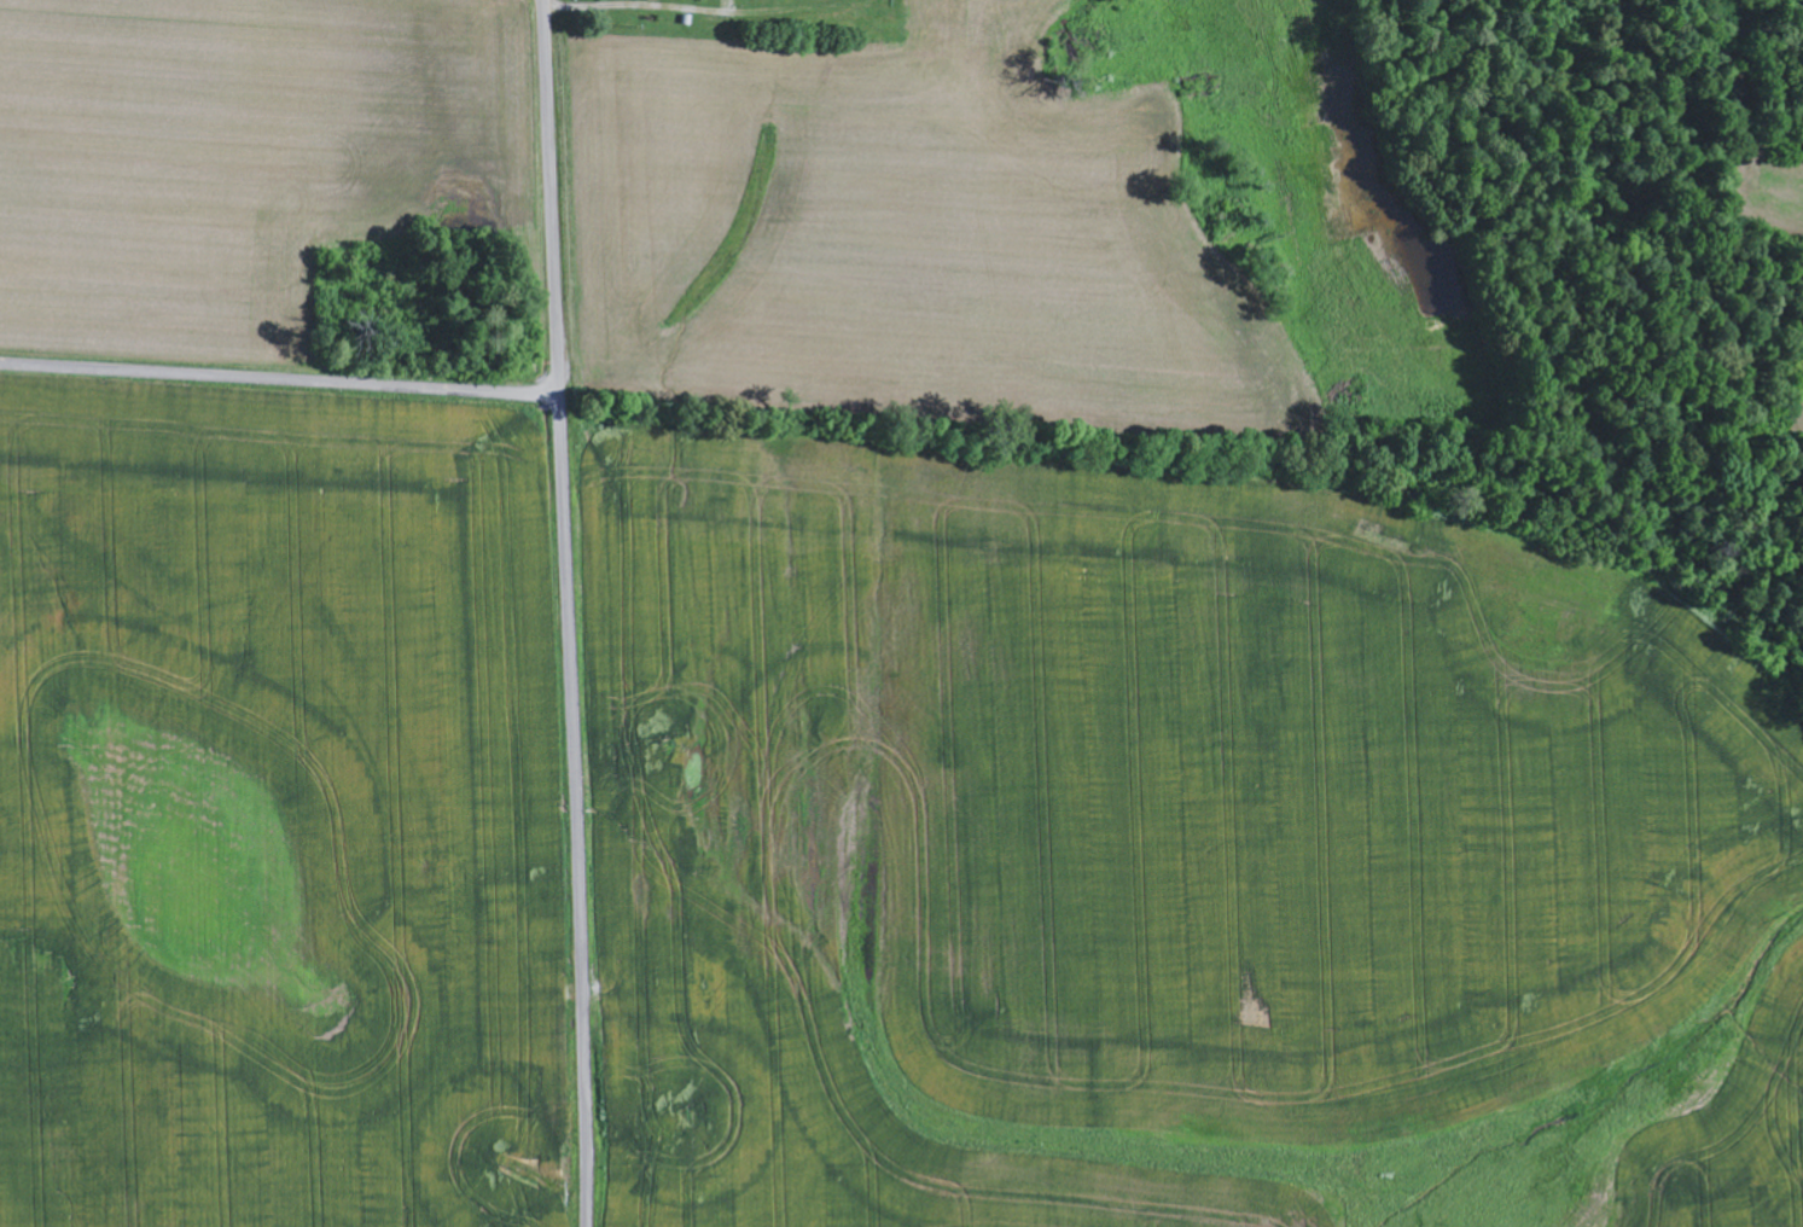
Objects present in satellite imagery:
road: (280, 380)
road: (571, 612)

